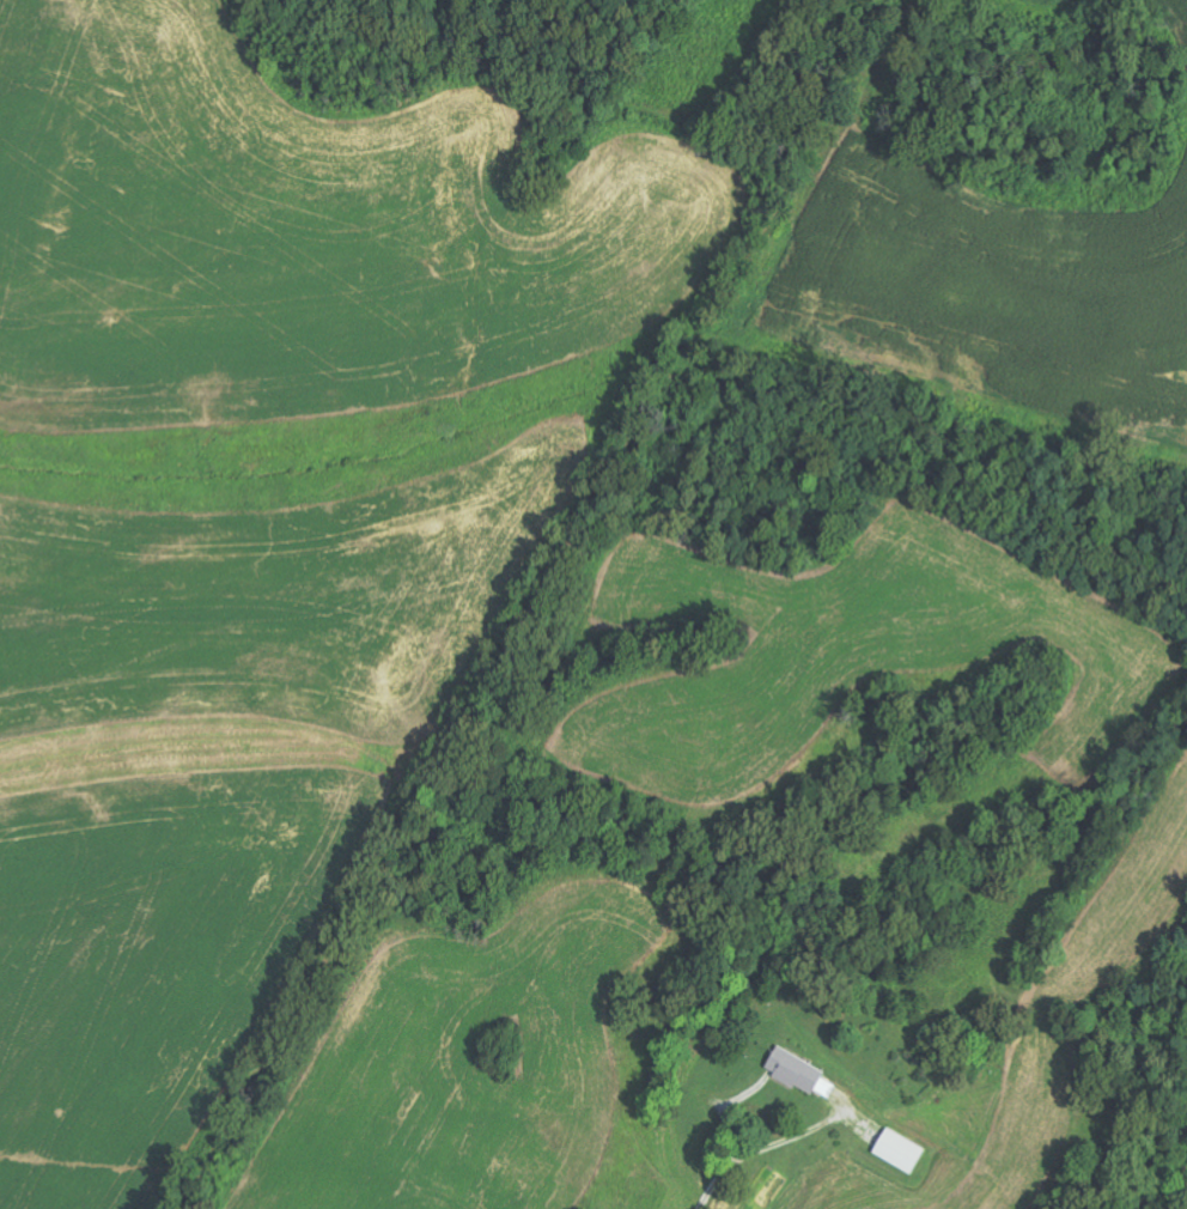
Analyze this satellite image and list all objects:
building: (802, 1071)
building: (906, 1152)

